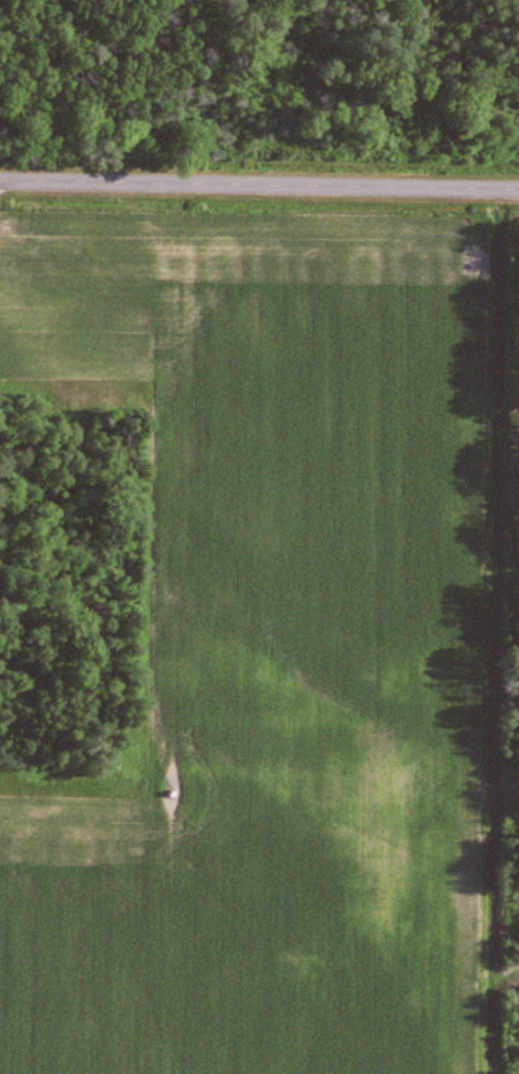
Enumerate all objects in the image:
road: (259, 193)

